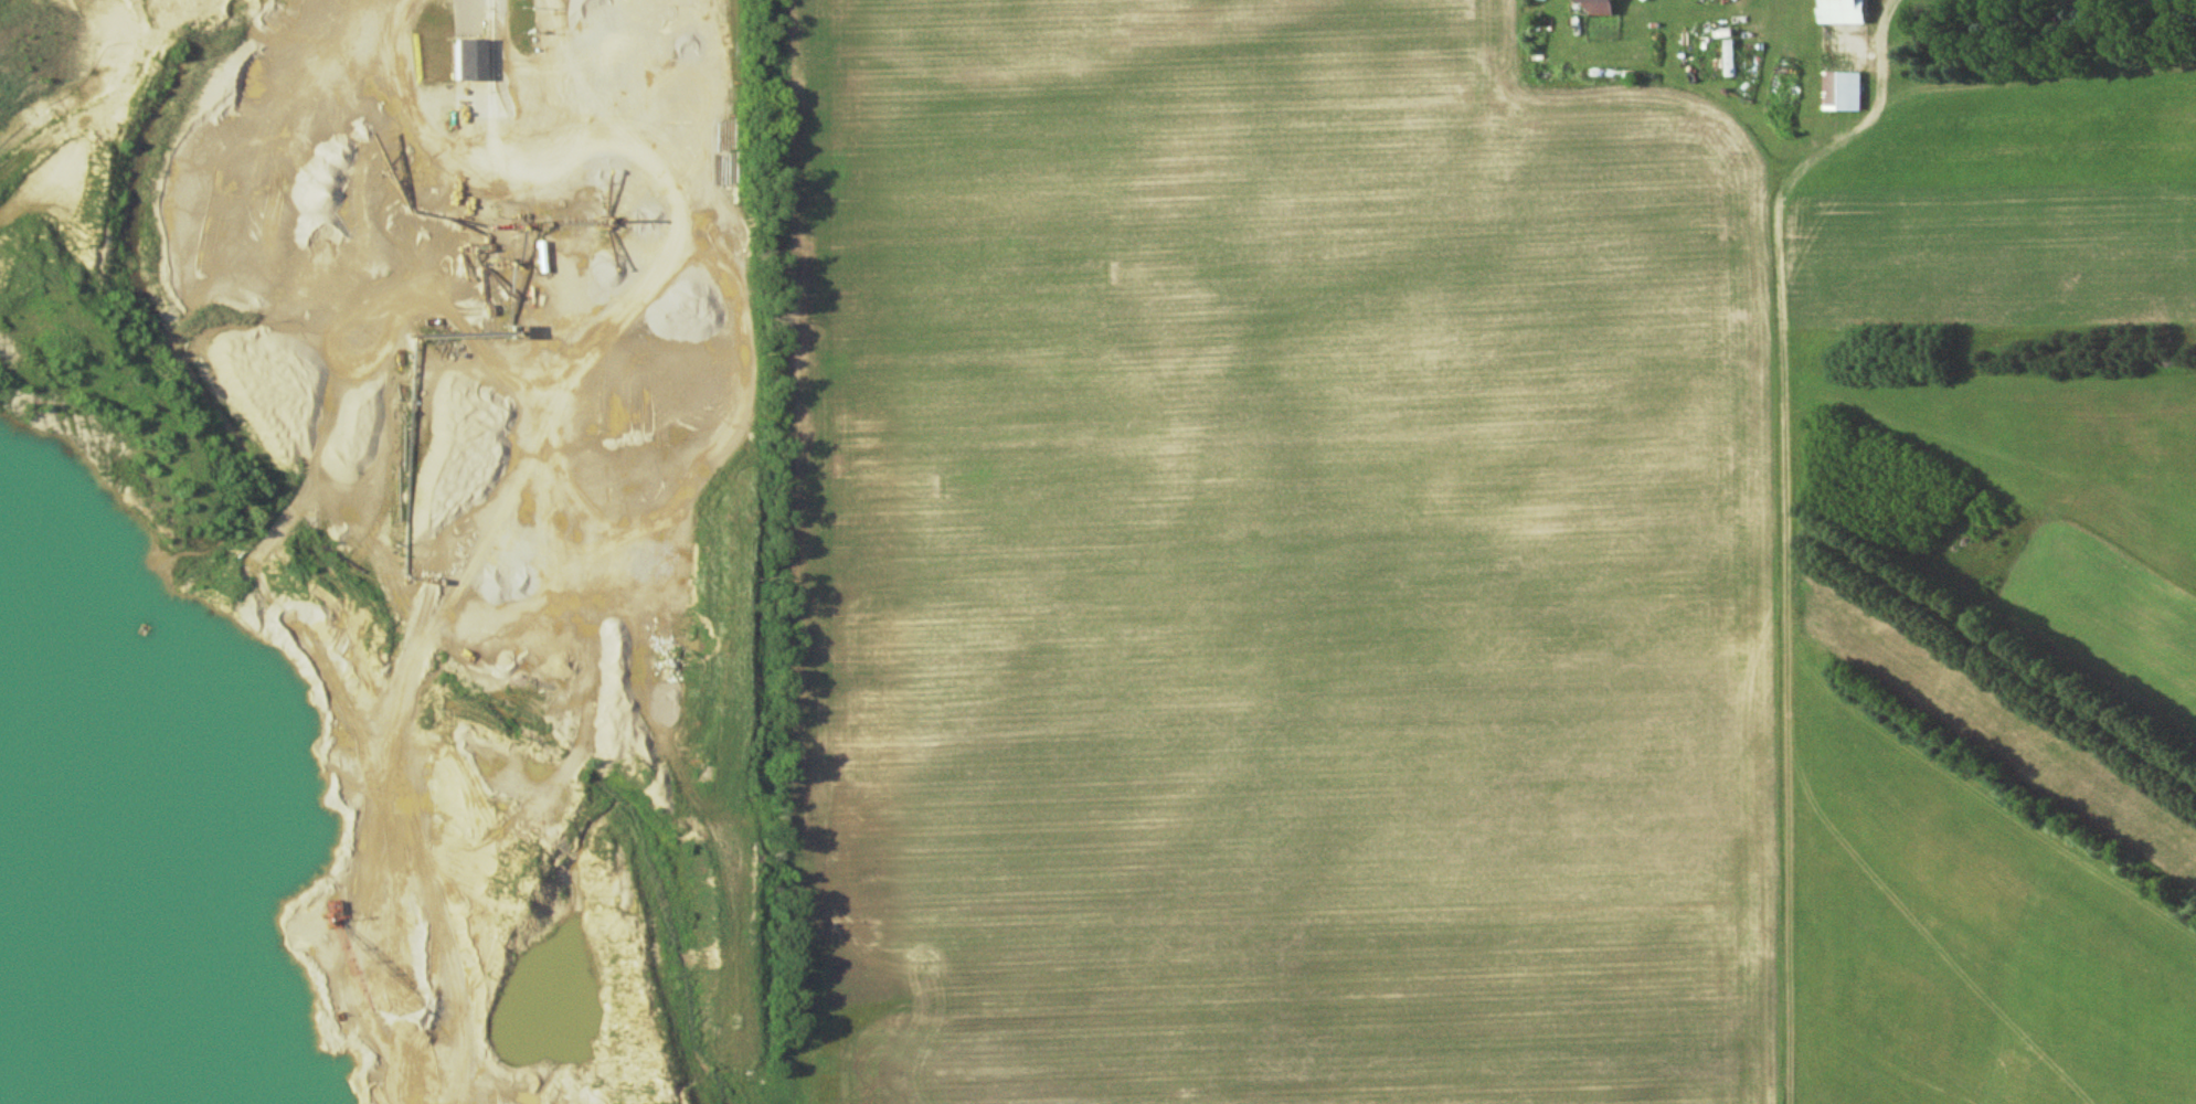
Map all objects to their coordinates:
building: (1602, 6)
road: (471, 10)
building: (1846, 11)
road: (1885, 42)
building: (471, 59)
building: (1842, 91)

